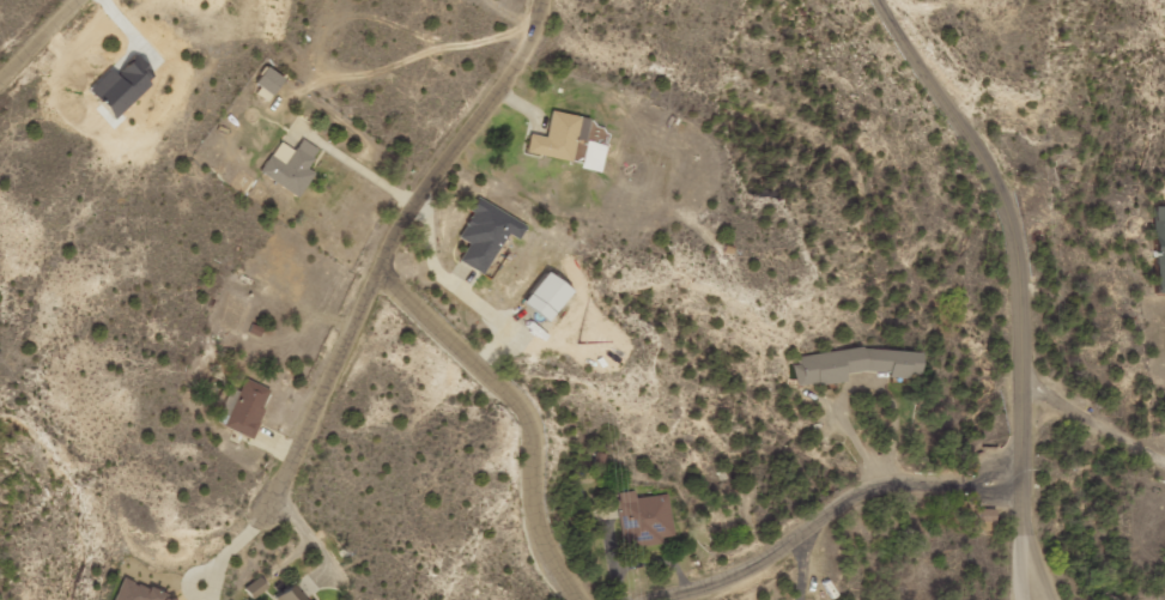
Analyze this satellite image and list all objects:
road: (38, 38)
building: (271, 80)
building: (125, 85)
road: (468, 140)
building: (568, 141)
building: (292, 165)
building: (486, 234)
building: (1160, 246)
road: (1020, 279)
building: (550, 295)
power tower: (589, 354)
building: (858, 364)
road: (339, 405)
building: (244, 407)
road: (533, 418)
road: (1097, 431)
road: (1096, 475)
road: (844, 508)
building: (644, 517)
building: (985, 520)
building: (256, 587)
building: (140, 592)
building: (295, 594)

